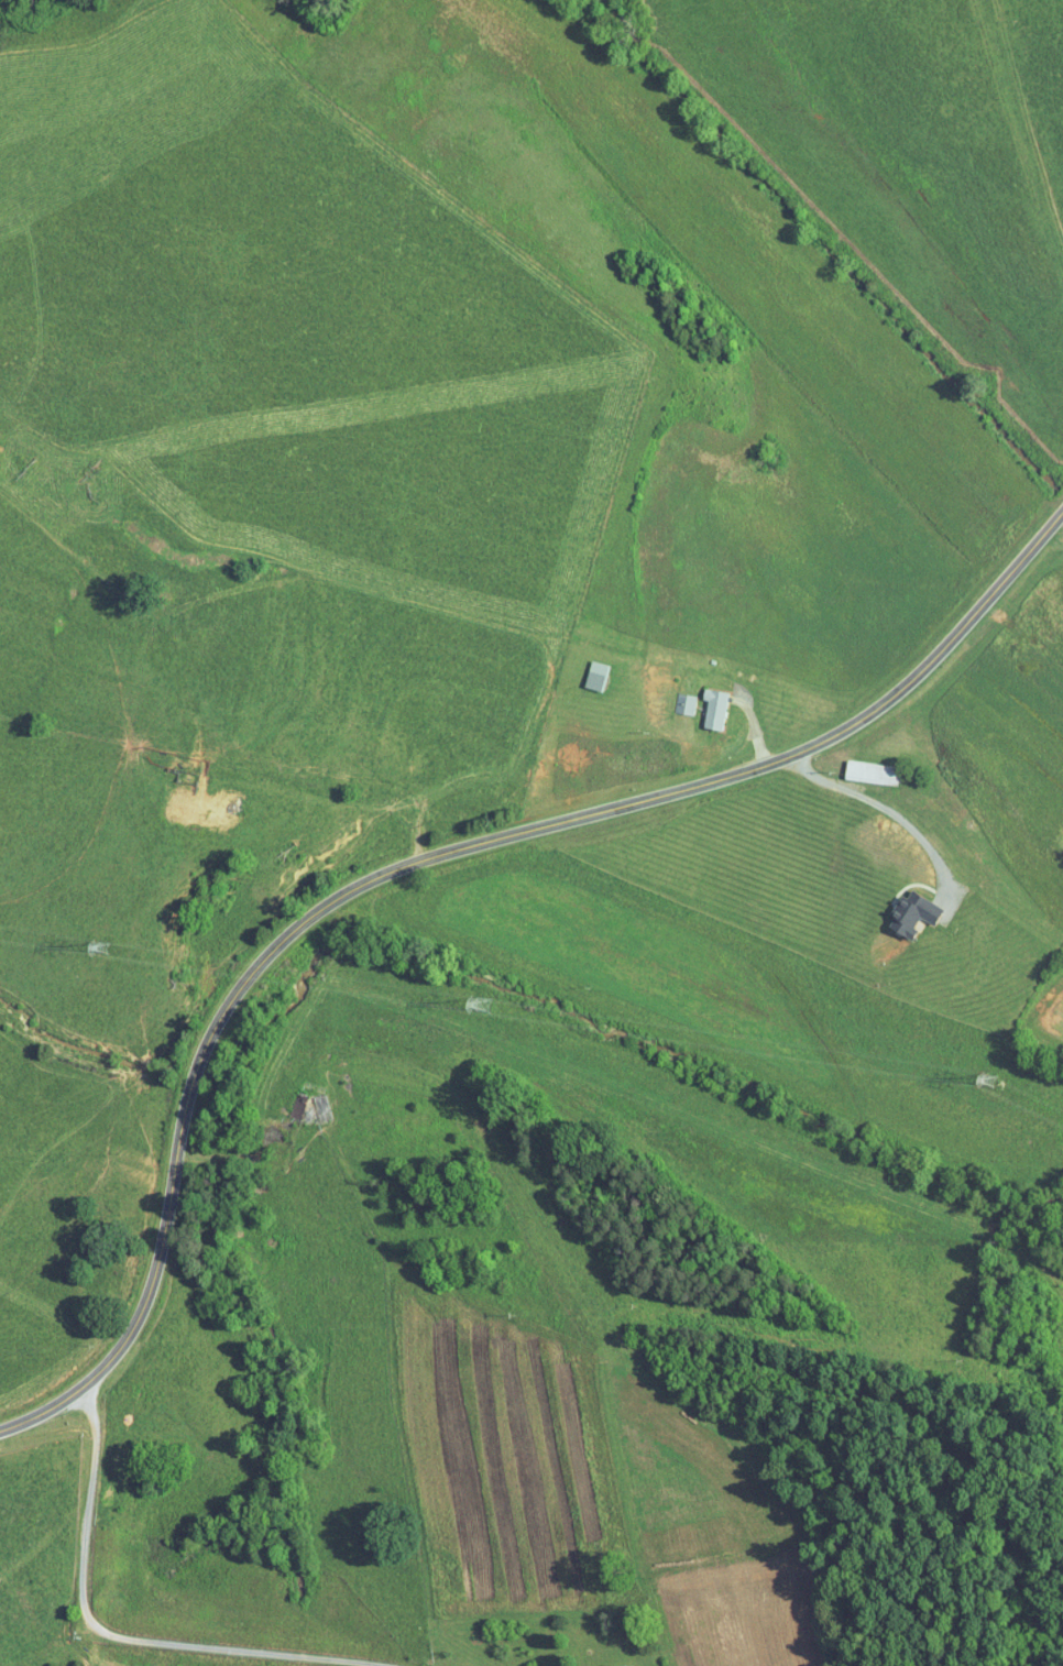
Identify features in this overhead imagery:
building: (582, 669)
building: (700, 701)
building: (857, 766)
road: (880, 808)
road: (418, 858)
building: (898, 907)
power tower: (101, 949)
power tower: (483, 1004)
power tower: (985, 1078)
road: (223, 1574)
building: (594, 1662)

